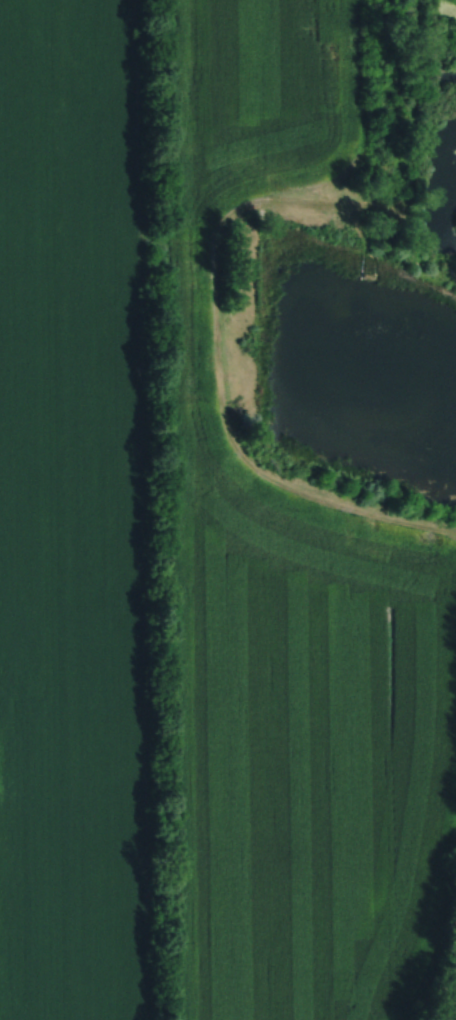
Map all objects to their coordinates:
road: (214, 254)
crop: (290, 603)

